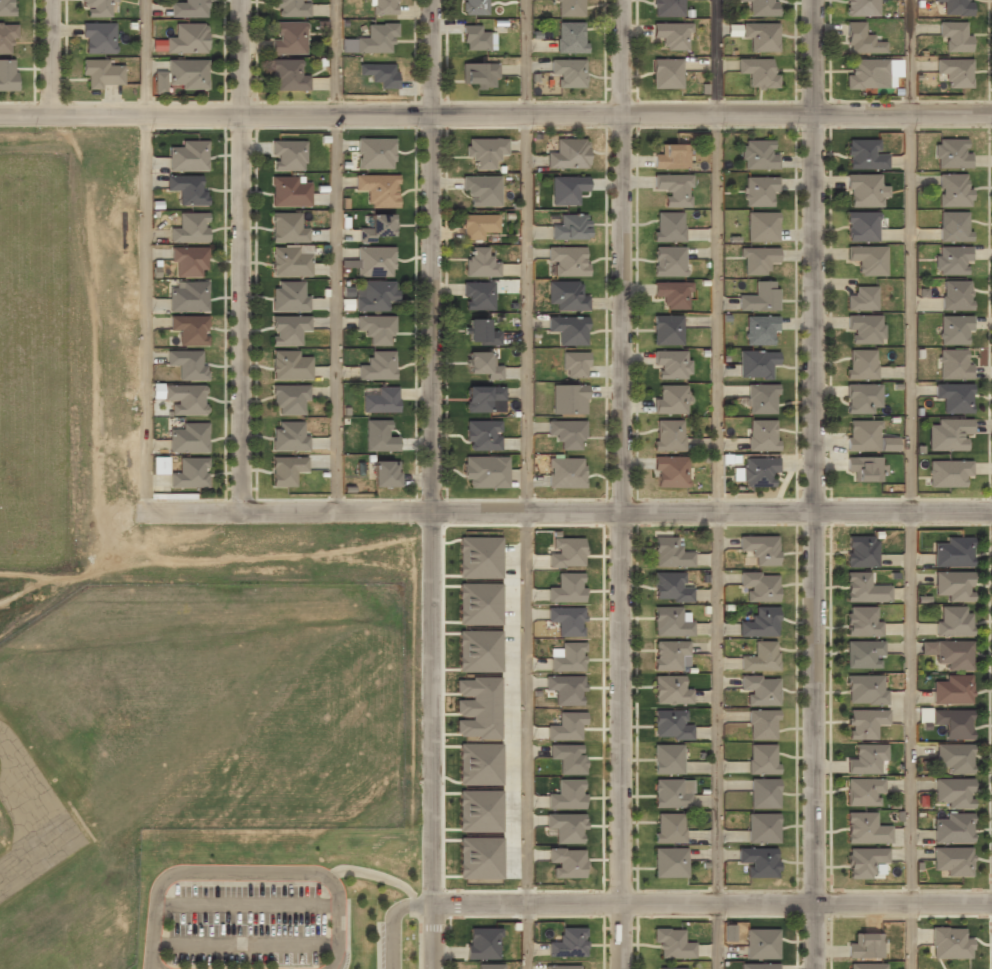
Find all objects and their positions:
building: (384, 6)
building: (474, 6)
building: (6, 7)
building: (98, 7)
building: (570, 7)
building: (760, 7)
building: (861, 7)
building: (954, 7)
building: (188, 8)
building: (290, 8)
building: (667, 8)
building: (733, 30)
building: (7, 34)
building: (671, 35)
building: (98, 36)
building: (570, 36)
building: (761, 36)
building: (953, 36)
building: (289, 37)
building: (184, 38)
building: (376, 38)
building: (474, 38)
building: (860, 39)
road: (53, 55)
building: (894, 68)
building: (102, 72)
building: (568, 72)
building: (954, 72)
building: (182, 73)
building: (379, 73)
building: (665, 73)
building: (757, 73)
building: (865, 73)
building: (8, 74)
building: (478, 74)
building: (287, 75)
road: (496, 111)
building: (375, 152)
building: (484, 152)
building: (864, 153)
building: (951, 153)
building: (188, 154)
building: (287, 154)
building: (568, 154)
building: (757, 154)
building: (670, 156)
building: (377, 188)
building: (673, 188)
building: (187, 189)
building: (566, 189)
building: (864, 189)
building: (953, 189)
building: (289, 190)
building: (760, 190)
building: (481, 191)
building: (477, 225)
building: (761, 225)
building: (862, 225)
building: (954, 225)
building: (377, 226)
building: (668, 226)
building: (286, 227)
building: (570, 227)
building: (190, 228)
road: (337, 255)
road: (142, 256)
road: (245, 256)
road: (435, 256)
building: (867, 258)
building: (567, 259)
building: (756, 259)
building: (951, 259)
building: (374, 260)
building: (668, 260)
building: (188, 261)
building: (289, 261)
building: (479, 261)
building: (671, 292)
building: (375, 294)
building: (955, 294)
building: (477, 295)
building: (566, 295)
building: (188, 296)
building: (289, 296)
building: (759, 296)
building: (862, 297)
building: (376, 328)
building: (864, 328)
building: (190, 329)
building: (288, 329)
building: (568, 329)
building: (666, 329)
building: (760, 329)
building: (954, 329)
building: (480, 331)
building: (860, 362)
building: (954, 362)
building: (574, 363)
building: (671, 363)
building: (757, 363)
building: (186, 364)
building: (480, 364)
building: (290, 365)
building: (377, 365)
building: (954, 396)
building: (481, 397)
building: (290, 398)
building: (568, 398)
building: (670, 398)
building: (761, 398)
building: (862, 398)
building: (186, 399)
building: (380, 399)
building: (566, 432)
building: (952, 433)
building: (483, 434)
building: (289, 435)
building: (667, 435)
building: (761, 435)
building: (378, 436)
building: (867, 436)
building: (188, 438)
road: (527, 449)
building: (160, 465)
building: (864, 468)
building: (286, 469)
building: (484, 471)
building: (670, 471)
building: (759, 471)
building: (947, 471)
building: (565, 472)
building: (190, 473)
building: (384, 474)
road: (629, 484)
road: (716, 484)
road: (816, 484)
road: (910, 484)
road: (566, 512)
building: (759, 547)
building: (861, 550)
building: (953, 550)
building: (565, 551)
building: (669, 553)
building: (479, 557)
building: (759, 584)
building: (954, 584)
building: (669, 586)
building: (566, 587)
building: (863, 587)
building: (480, 604)
building: (566, 618)
building: (862, 619)
building: (952, 619)
building: (759, 620)
building: (669, 621)
building: (480, 651)
building: (668, 653)
building: (864, 653)
building: (954, 653)
building: (761, 654)
building: (569, 656)
building: (566, 688)
building: (760, 688)
building: (865, 688)
building: (952, 688)
building: (669, 690)
road: (433, 705)
building: (478, 707)
building: (864, 722)
building: (952, 722)
building: (761, 723)
building: (669, 724)
building: (566, 725)
airport: (191, 738)
building: (568, 756)
building: (762, 757)
building: (954, 757)
building: (865, 758)
building: (667, 759)
building: (480, 764)
airport taxiway: (31, 788)
building: (864, 791)
building: (763, 792)
building: (953, 792)
building: (567, 794)
building: (668, 794)
building: (473, 799)
building: (566, 825)
building: (762, 827)
building: (668, 828)
building: (865, 828)
building: (952, 828)
airport runway: (37, 851)
building: (480, 857)
building: (757, 860)
building: (864, 860)
building: (567, 861)
building: (952, 861)
building: (668, 862)
road: (246, 871)
road: (711, 899)
road: (245, 905)
road: (392, 921)
road: (431, 934)
road: (526, 934)
building: (567, 942)
building: (482, 943)
building: (672, 943)
building: (761, 943)
building: (949, 943)
road: (244, 945)
building: (865, 945)
building: (866, 965)
building: (489, 966)
building: (561, 966)
building: (758, 966)
building: (671, 968)

